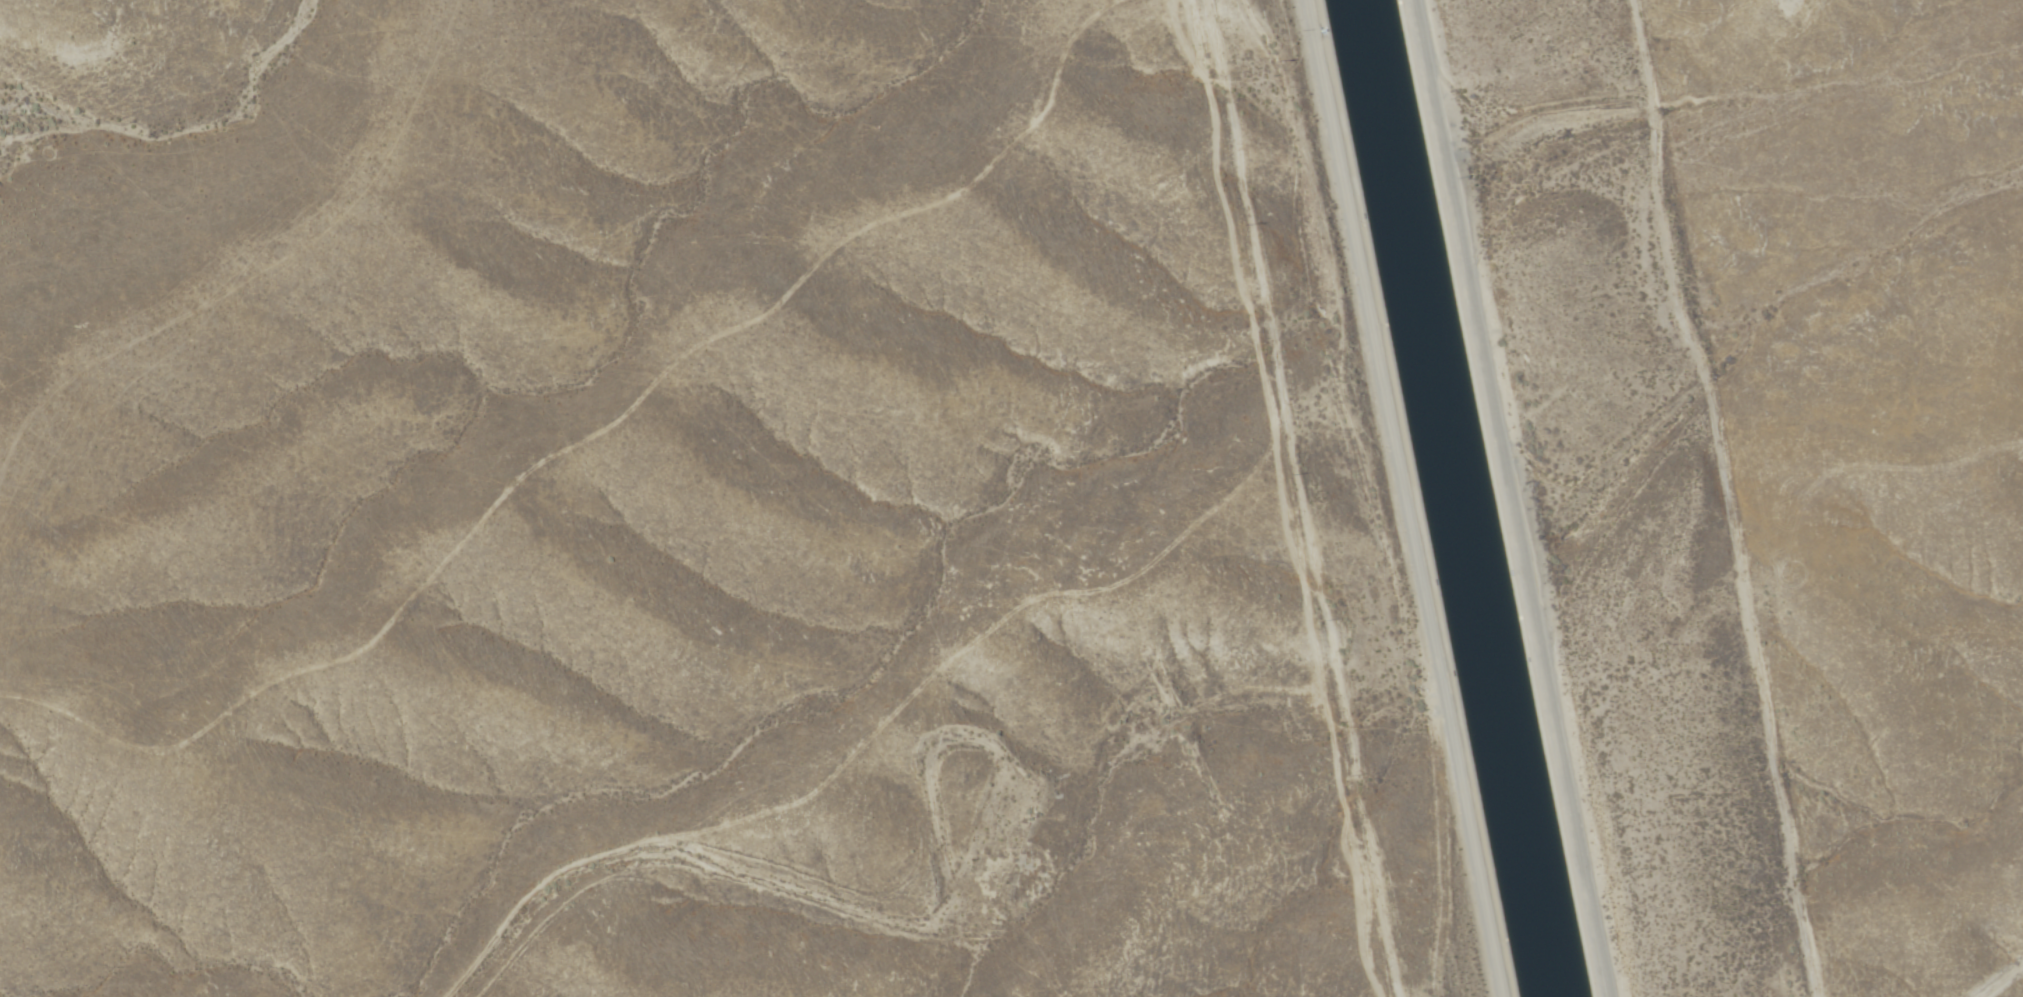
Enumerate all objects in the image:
road: (1280, 495)
road: (1731, 495)
road: (1406, 498)
road: (1512, 498)
road: (941, 781)
road: (702, 870)

